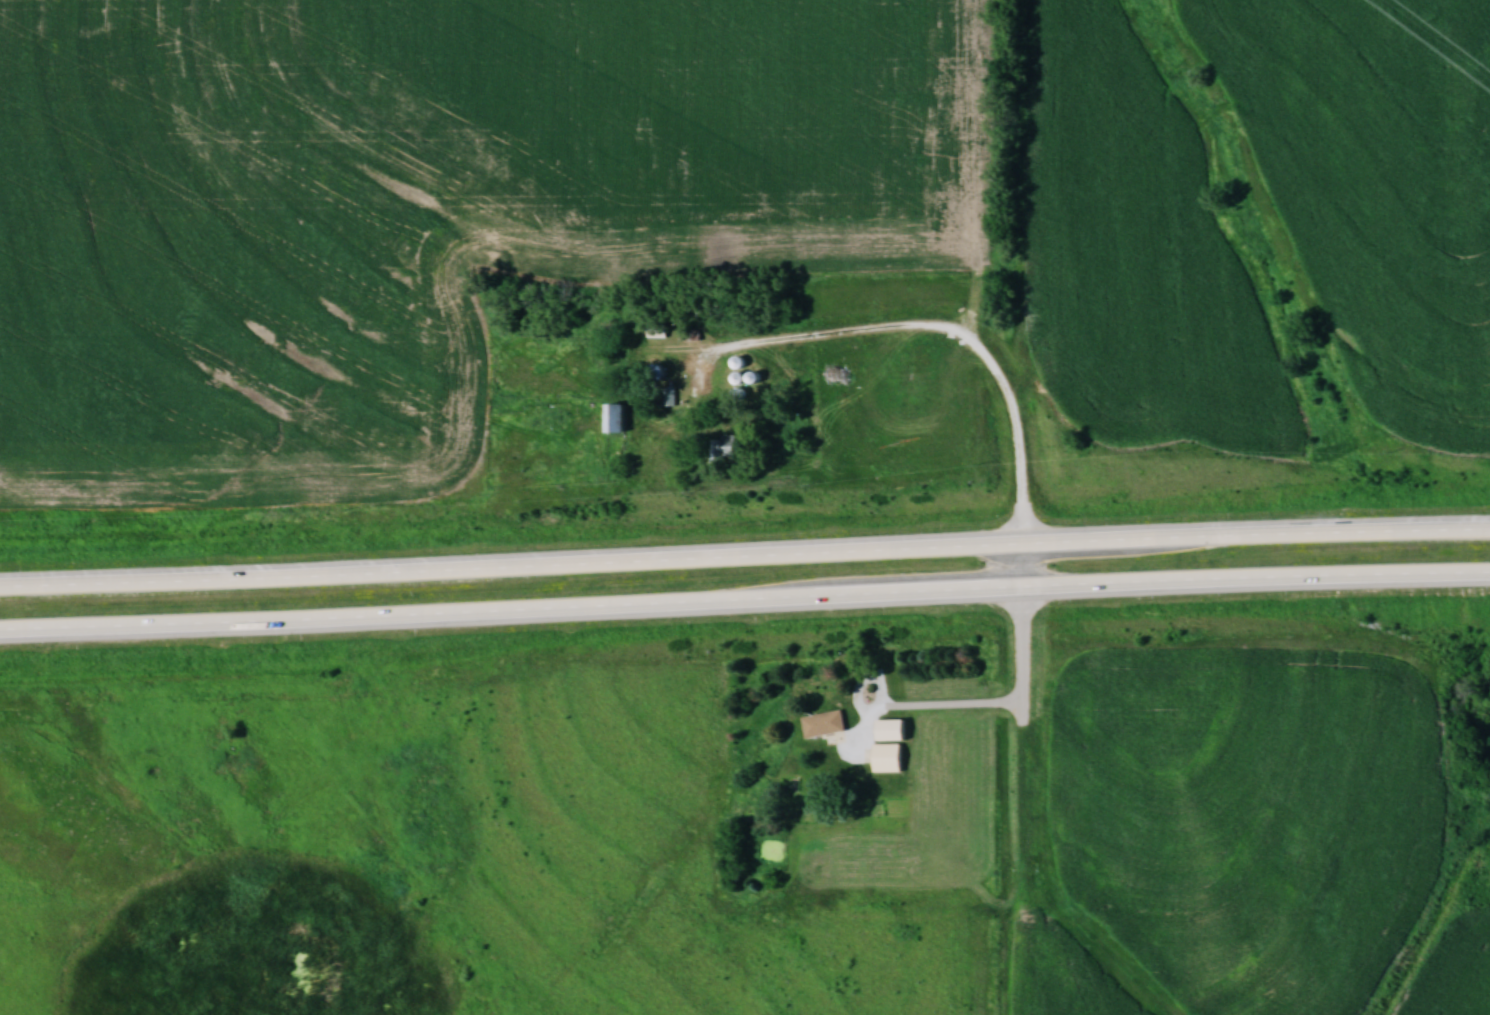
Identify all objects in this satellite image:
building: (661, 371)
building: (616, 417)
building: (724, 446)
road: (1013, 453)
road: (744, 559)
road: (744, 603)
building: (823, 723)
building: (891, 729)
building: (888, 757)

